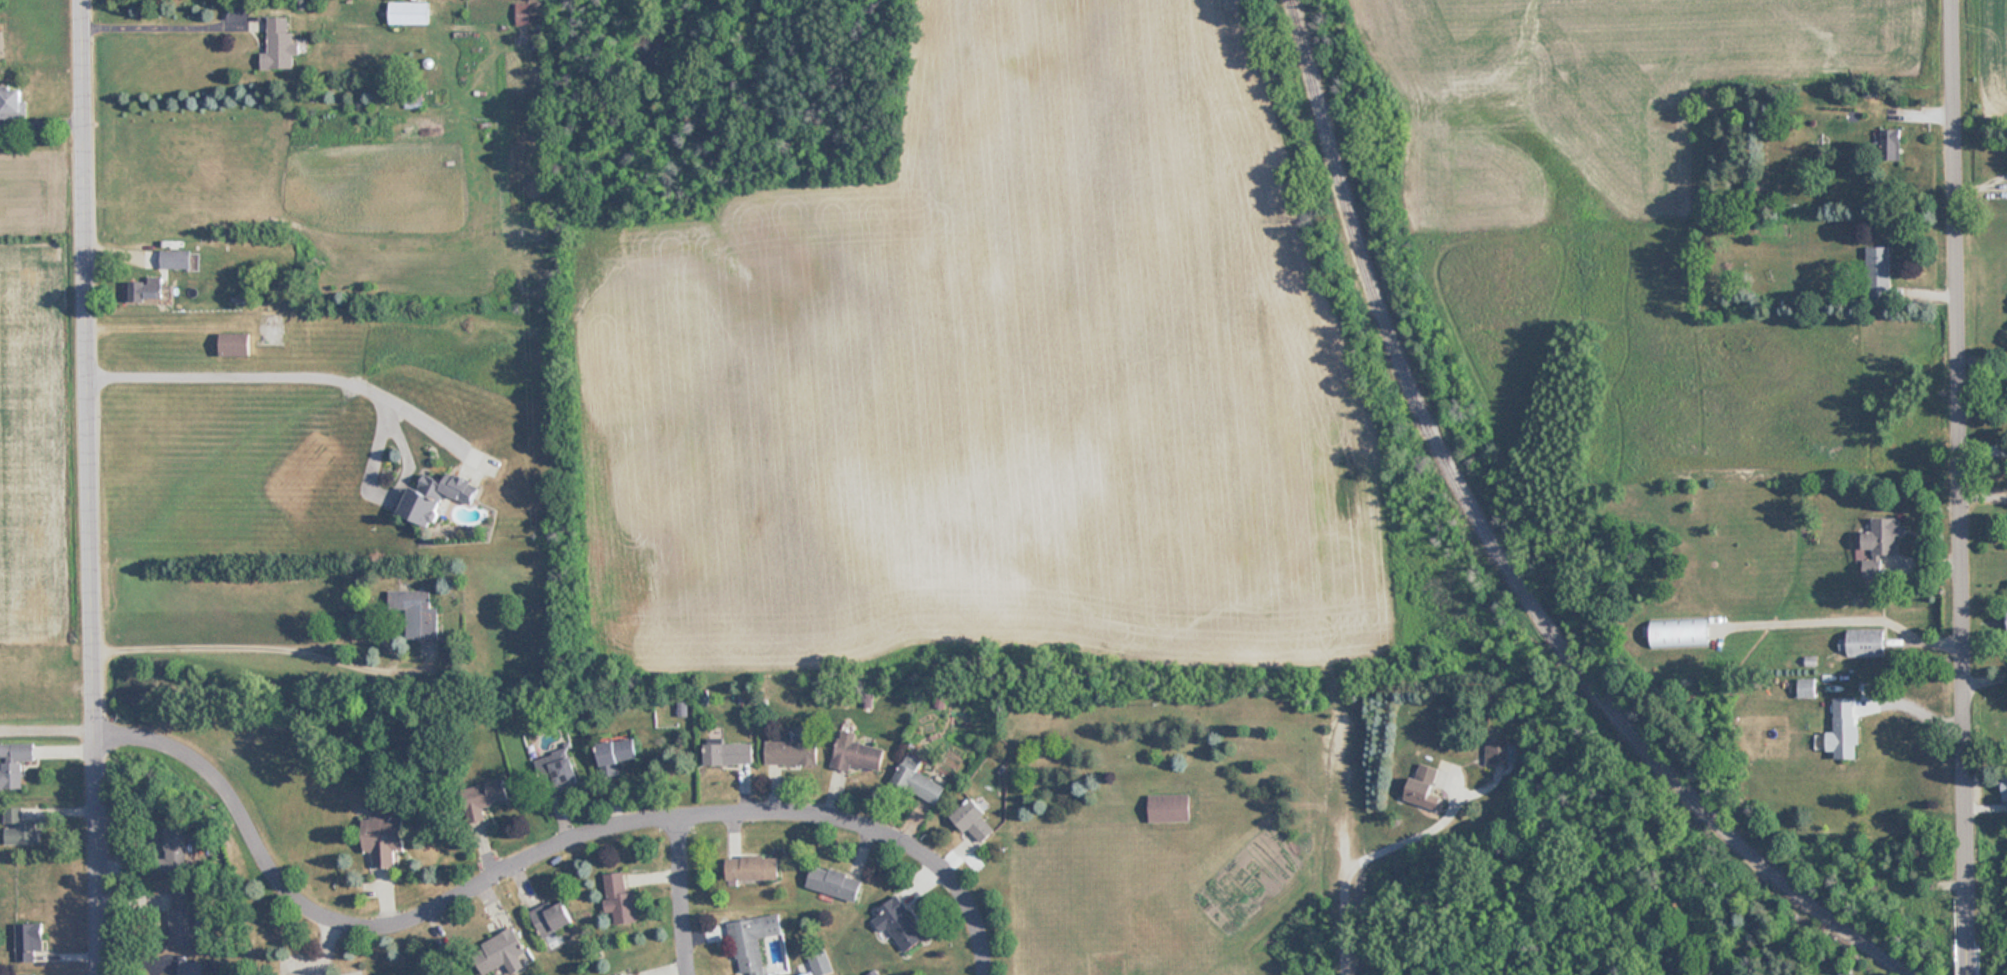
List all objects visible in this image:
building: (409, 13)
building: (523, 13)
road: (153, 22)
building: (279, 46)
building: (12, 104)
building: (1892, 145)
building: (176, 258)
building: (1879, 273)
building: (147, 288)
building: (235, 344)
road: (240, 373)
road: (1963, 470)
road: (93, 487)
building: (437, 494)
building: (1883, 545)
railway: (1507, 557)
building: (417, 611)
building: (1681, 631)
road: (241, 642)
building: (1866, 644)
building: (1806, 687)
road: (1917, 709)
building: (1845, 728)
building: (618, 751)
building: (1496, 751)
building: (793, 752)
building: (729, 753)
building: (858, 754)
building: (13, 763)
building: (561, 768)
building: (918, 780)
building: (1423, 783)
building: (2005, 791)
building: (483, 798)
building: (1170, 807)
building: (974, 819)
building: (22, 825)
building: (384, 838)
road: (1415, 841)
building: (178, 850)
road: (537, 854)
building: (753, 868)
building: (835, 882)
road: (681, 896)
building: (619, 898)
building: (182, 917)
building: (553, 918)
building: (898, 922)
building: (752, 941)
building: (30, 942)
building: (498, 950)
road: (1970, 958)
building: (190, 967)

